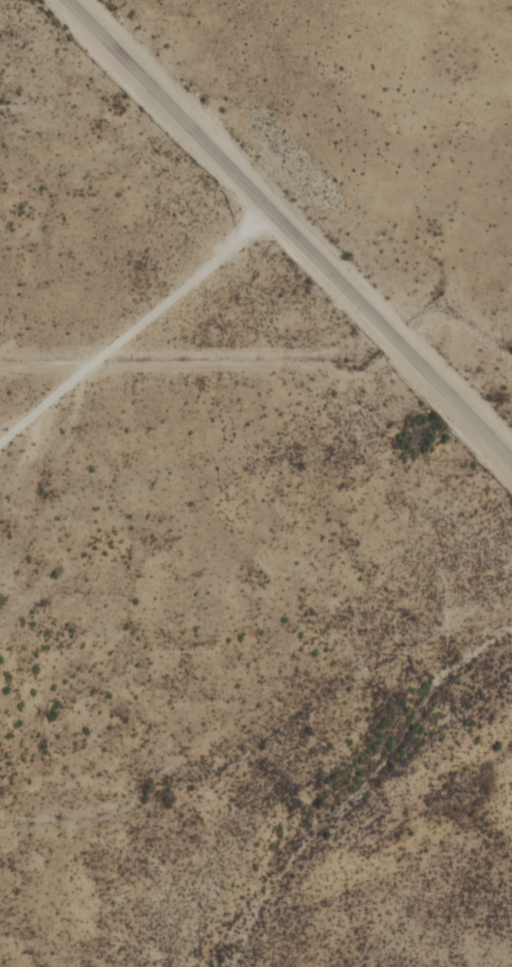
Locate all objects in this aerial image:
road: (288, 229)
road: (136, 328)
road: (450, 655)
road: (306, 668)

